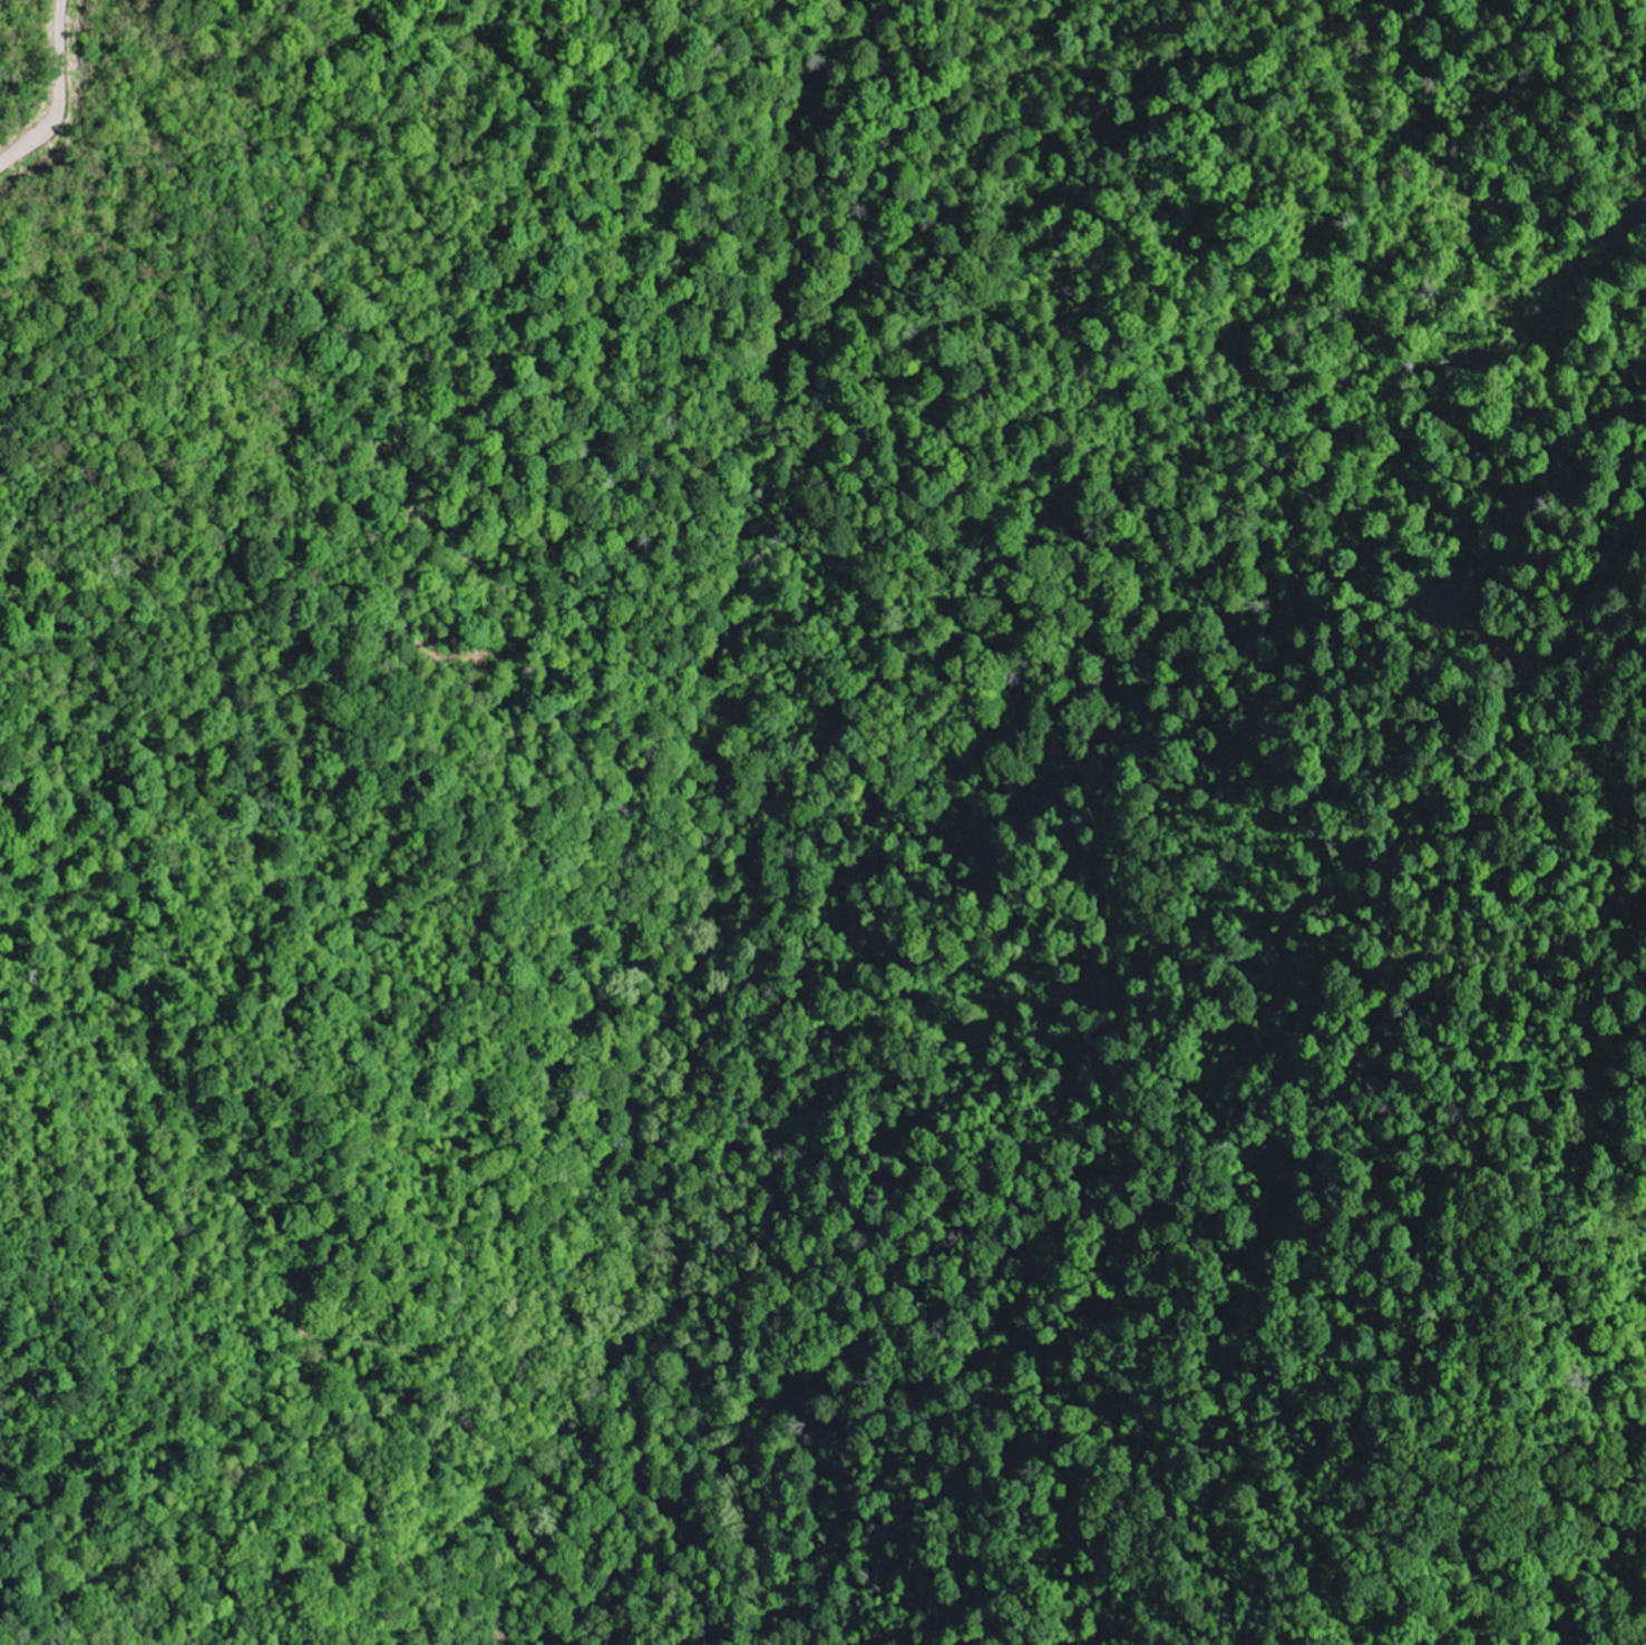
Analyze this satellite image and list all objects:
road: (88, 72)

